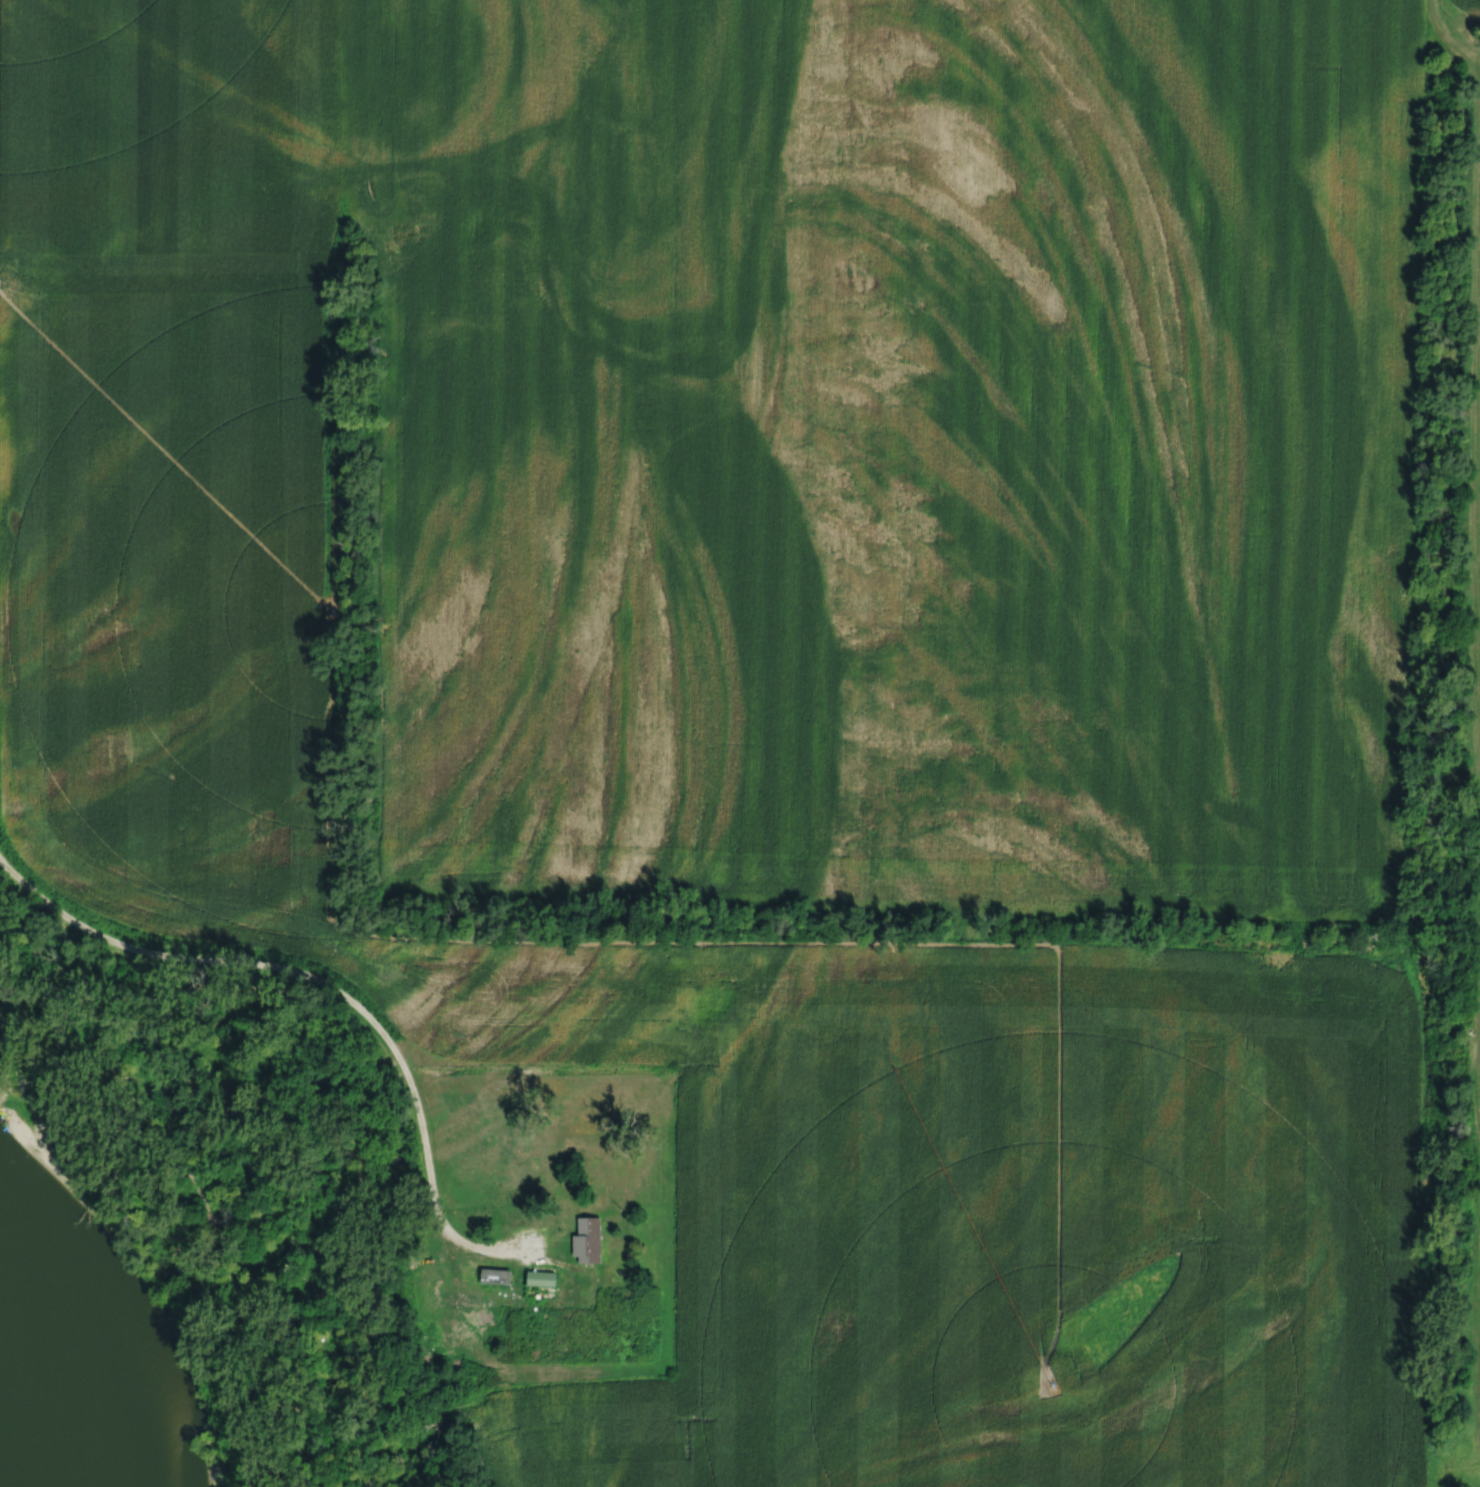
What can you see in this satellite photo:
road: (330, 985)
road: (208, 1206)
building: (586, 1241)
building: (496, 1273)
building: (541, 1275)
river: (37, 1366)

